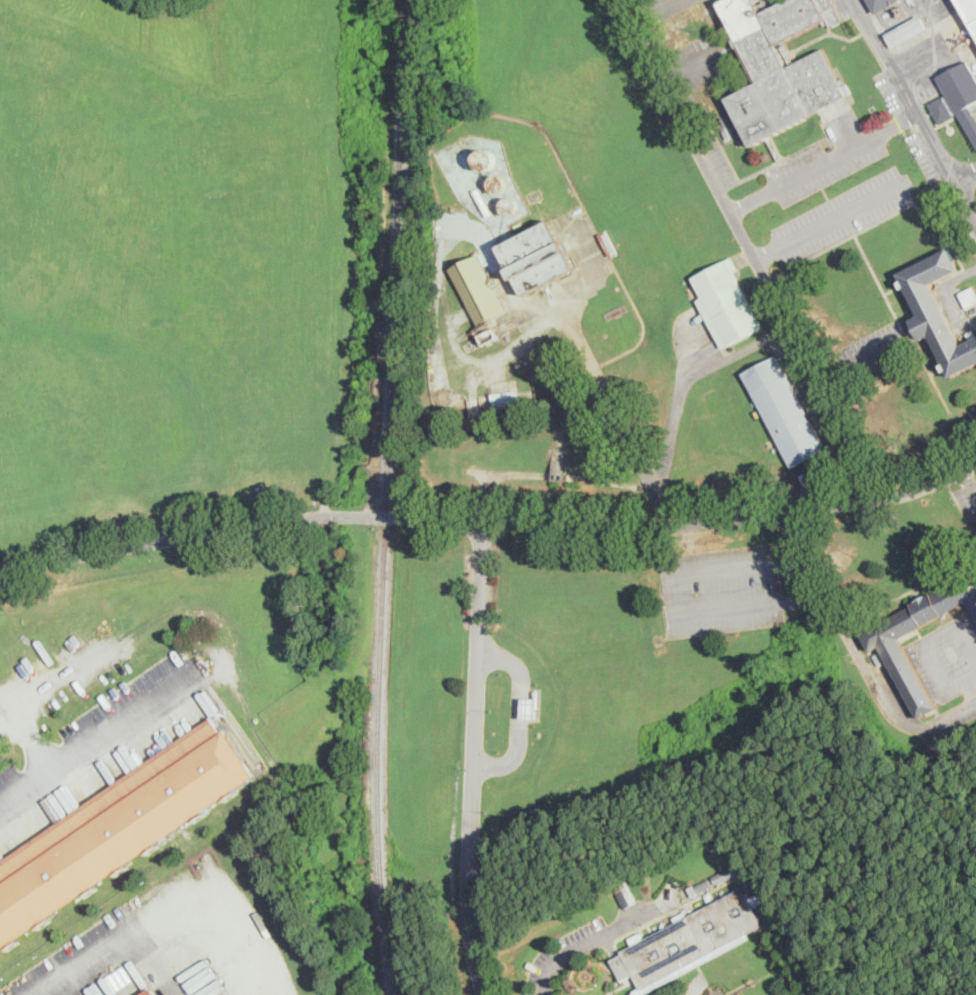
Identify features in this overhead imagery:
building: (881, 4)
parking lot: (671, 7)
road: (649, 8)
building: (899, 11)
building: (968, 12)
road: (902, 17)
building: (906, 32)
parking lot: (700, 60)
road: (692, 65)
building: (782, 66)
building: (957, 97)
road: (916, 110)
road: (840, 128)
parking lot: (911, 130)
parking lot: (830, 154)
building: (766, 155)
parking lot: (718, 159)
road: (824, 161)
road: (966, 176)
parking lot: (842, 214)
road: (830, 219)
building: (607, 243)
road: (749, 248)
building: (538, 258)
building: (478, 291)
building: (969, 297)
building: (726, 303)
building: (938, 311)
road: (739, 351)
parking lot: (871, 351)
road: (858, 360)
building: (506, 401)
park: (546, 411)
building: (785, 413)
road: (674, 421)
road: (969, 482)
railway: (385, 497)
parking lot: (968, 500)
road: (490, 522)
road: (800, 542)
parking lot: (720, 589)
road: (668, 598)
road: (837, 617)
building: (883, 642)
road: (924, 642)
road: (971, 678)
parking lot: (936, 679)
road: (970, 690)
building: (531, 706)
road: (517, 711)
road: (913, 727)
road: (33, 741)
road: (99, 744)
parking lot: (103, 747)
road: (476, 759)
building: (118, 828)
building: (739, 864)
building: (724, 874)
building: (703, 885)
building: (728, 888)
building: (692, 891)
building: (755, 893)
building: (628, 895)
road: (162, 914)
road: (595, 939)
building: (689, 943)
parking lot: (96, 962)
road: (273, 983)
building: (149, 992)

